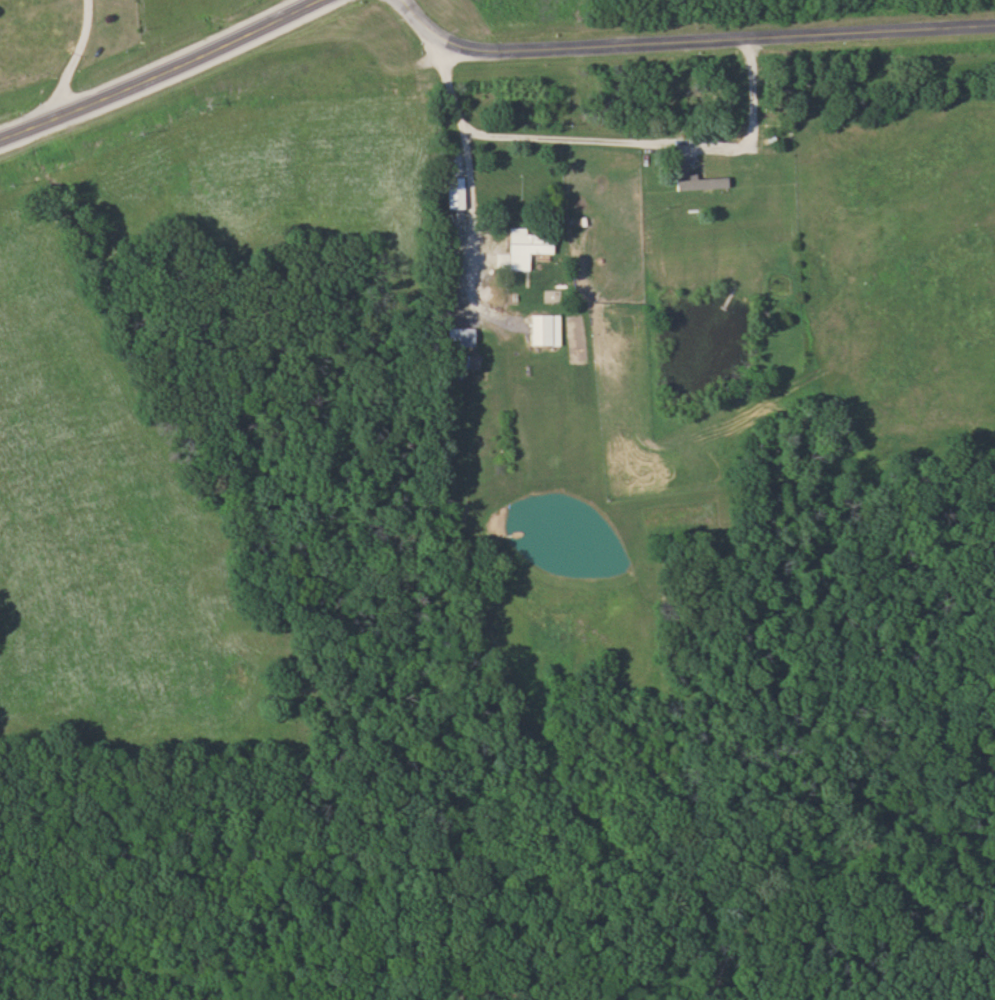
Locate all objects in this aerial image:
road: (689, 39)
road: (66, 61)
road: (162, 75)
road: (604, 148)
building: (699, 183)
road: (465, 199)
building: (521, 249)
building: (536, 330)
building: (458, 337)

